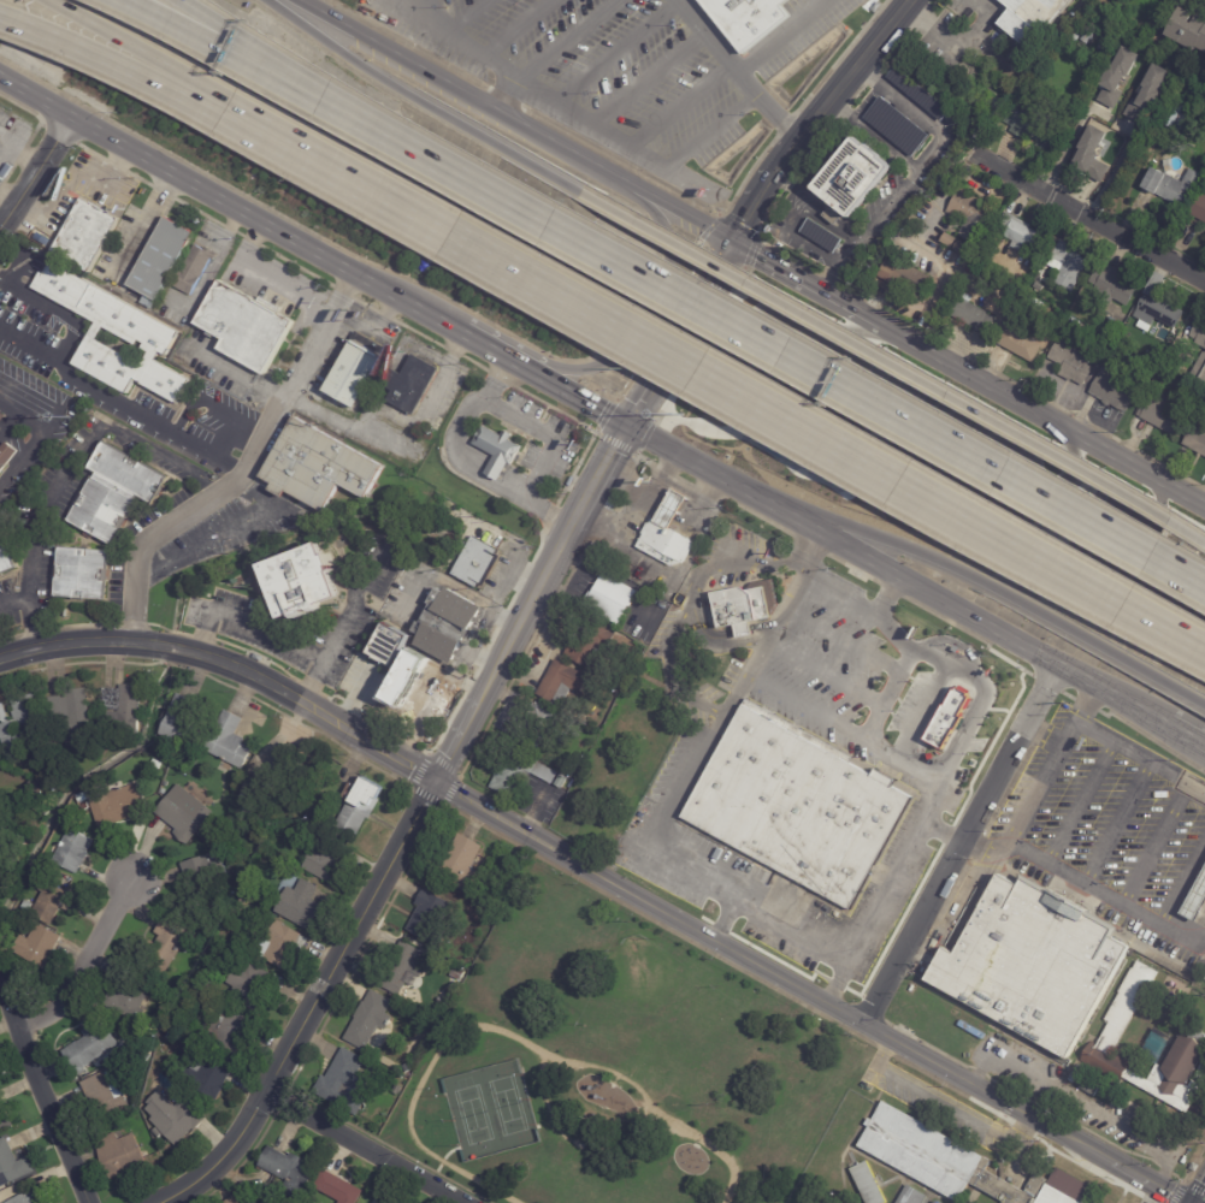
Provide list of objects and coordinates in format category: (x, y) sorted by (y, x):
road: (897, 13)
road: (469, 14)
building: (1032, 18)
building: (751, 19)
road: (182, 23)
road: (214, 23)
road: (520, 28)
building: (1186, 34)
road: (782, 35)
road: (956, 40)
road: (132, 42)
road: (571, 42)
building: (1105, 45)
road: (482, 52)
road: (616, 52)
road: (101, 60)
road: (738, 67)
road: (650, 77)
building: (1116, 77)
building: (1147, 93)
building: (1027, 94)
road: (403, 97)
road: (683, 105)
road: (24, 108)
building: (1186, 109)
building: (1172, 118)
road: (516, 122)
building: (896, 126)
building: (1032, 126)
road: (974, 130)
road: (804, 131)
road: (60, 134)
road: (607, 134)
road: (716, 137)
road: (950, 137)
road: (4, 152)
road: (17, 154)
building: (1091, 160)
road: (34, 168)
building: (852, 177)
road: (177, 179)
road: (67, 183)
building: (1171, 185)
road: (4, 202)
building: (1197, 208)
road: (1089, 215)
building: (967, 218)
road: (141, 226)
building: (88, 235)
building: (1017, 235)
traffic signals: (731, 242)
building: (956, 247)
building: (161, 261)
building: (982, 262)
building: (1063, 263)
building: (195, 268)
building: (902, 279)
road: (803, 283)
road: (937, 286)
building: (1109, 286)
road: (335, 288)
building: (1035, 289)
building: (1071, 297)
road: (407, 306)
building: (1032, 306)
building: (1156, 308)
road: (55, 312)
road: (723, 315)
building: (969, 316)
road: (631, 318)
building: (246, 325)
building: (1127, 334)
building: (149, 336)
road: (679, 336)
building: (1198, 336)
road: (841, 337)
building: (1015, 344)
road: (488, 351)
building: (1158, 355)
road: (886, 363)
building: (1068, 363)
building: (356, 369)
building: (1199, 371)
road: (705, 377)
building: (1162, 377)
building: (412, 384)
building: (1110, 395)
building: (1197, 396)
road: (573, 398)
road: (201, 401)
road: (122, 404)
road: (1040, 415)
building: (1159, 415)
building: (2, 416)
road: (236, 426)
road: (43, 428)
traffic signals: (627, 429)
road: (554, 438)
building: (1194, 443)
road: (615, 444)
building: (498, 450)
building: (7, 456)
road: (165, 457)
road: (680, 458)
road: (1069, 466)
building: (320, 467)
road: (248, 474)
building: (118, 493)
road: (716, 499)
road: (986, 511)
road: (34, 526)
road: (224, 531)
building: (667, 532)
gas station: (669, 534)
road: (814, 546)
building: (8, 563)
building: (479, 564)
road: (853, 569)
building: (85, 574)
parking lot: (1086, 574)
road: (976, 582)
building: (306, 583)
road: (456, 586)
road: (890, 589)
building: (612, 598)
road: (13, 601)
road: (834, 603)
road: (531, 604)
road: (358, 605)
road: (687, 606)
building: (746, 606)
road: (956, 608)
building: (451, 623)
road: (970, 634)
road: (272, 636)
road: (843, 639)
road: (904, 640)
building: (394, 644)
building: (583, 652)
road: (230, 664)
road: (825, 675)
building: (415, 676)
building: (563, 682)
road: (1046, 683)
building: (454, 689)
road: (1067, 694)
road: (360, 697)
road: (1079, 703)
road: (1085, 704)
road: (808, 706)
building: (126, 707)
road: (925, 709)
building: (73, 712)
building: (951, 713)
building: (185, 724)
building: (18, 725)
building: (538, 727)
road: (1093, 729)
road: (868, 733)
road: (1150, 737)
road: (1191, 740)
building: (232, 742)
building: (584, 749)
building: (158, 764)
building: (260, 764)
building: (521, 772)
building: (278, 776)
building: (562, 781)
building: (39, 788)
building: (84, 798)
road: (1124, 802)
building: (118, 805)
building: (361, 806)
building: (76, 807)
building: (805, 807)
building: (185, 812)
road: (943, 832)
building: (279, 835)
road: (1157, 838)
road: (958, 843)
building: (75, 851)
building: (5, 857)
building: (327, 859)
building: (465, 860)
building: (205, 867)
road: (1182, 878)
road: (1088, 883)
building: (1193, 891)
gas station: (1193, 891)
road: (721, 899)
building: (55, 901)
building: (30, 905)
building: (302, 905)
building: (430, 913)
road: (719, 919)
building: (43, 944)
building: (169, 944)
building: (282, 946)
road: (85, 964)
building: (1029, 965)
building: (403, 966)
building: (459, 973)
building: (1204, 974)
building: (1204, 978)
building: (254, 985)
road: (838, 985)
road: (810, 994)
building: (128, 1003)
road: (312, 1006)
building: (1124, 1006)
building: (372, 1018)
building: (179, 1020)
road: (471, 1026)
building: (975, 1032)
building: (229, 1033)
building: (94, 1047)
park: (614, 1066)
building: (408, 1067)
building: (1163, 1067)
building: (208, 1074)
building: (344, 1075)
building: (400, 1089)
building: (1088, 1089)
road: (41, 1092)
building: (1107, 1095)
building: (107, 1096)
road: (1080, 1102)
road: (655, 1109)
park: (489, 1110)
road: (941, 1110)
building: (177, 1118)
building: (4, 1121)
road: (367, 1146)
road: (1021, 1152)
building: (122, 1156)
building: (10, 1163)
building: (953, 1163)
building: (289, 1169)
road: (466, 1177)
building: (873, 1183)
building: (339, 1186)
building: (914, 1196)
building: (30, 1198)
building: (234, 1199)
road: (1203, 1199)
building: (932, 1202)
building: (937, 1202)

